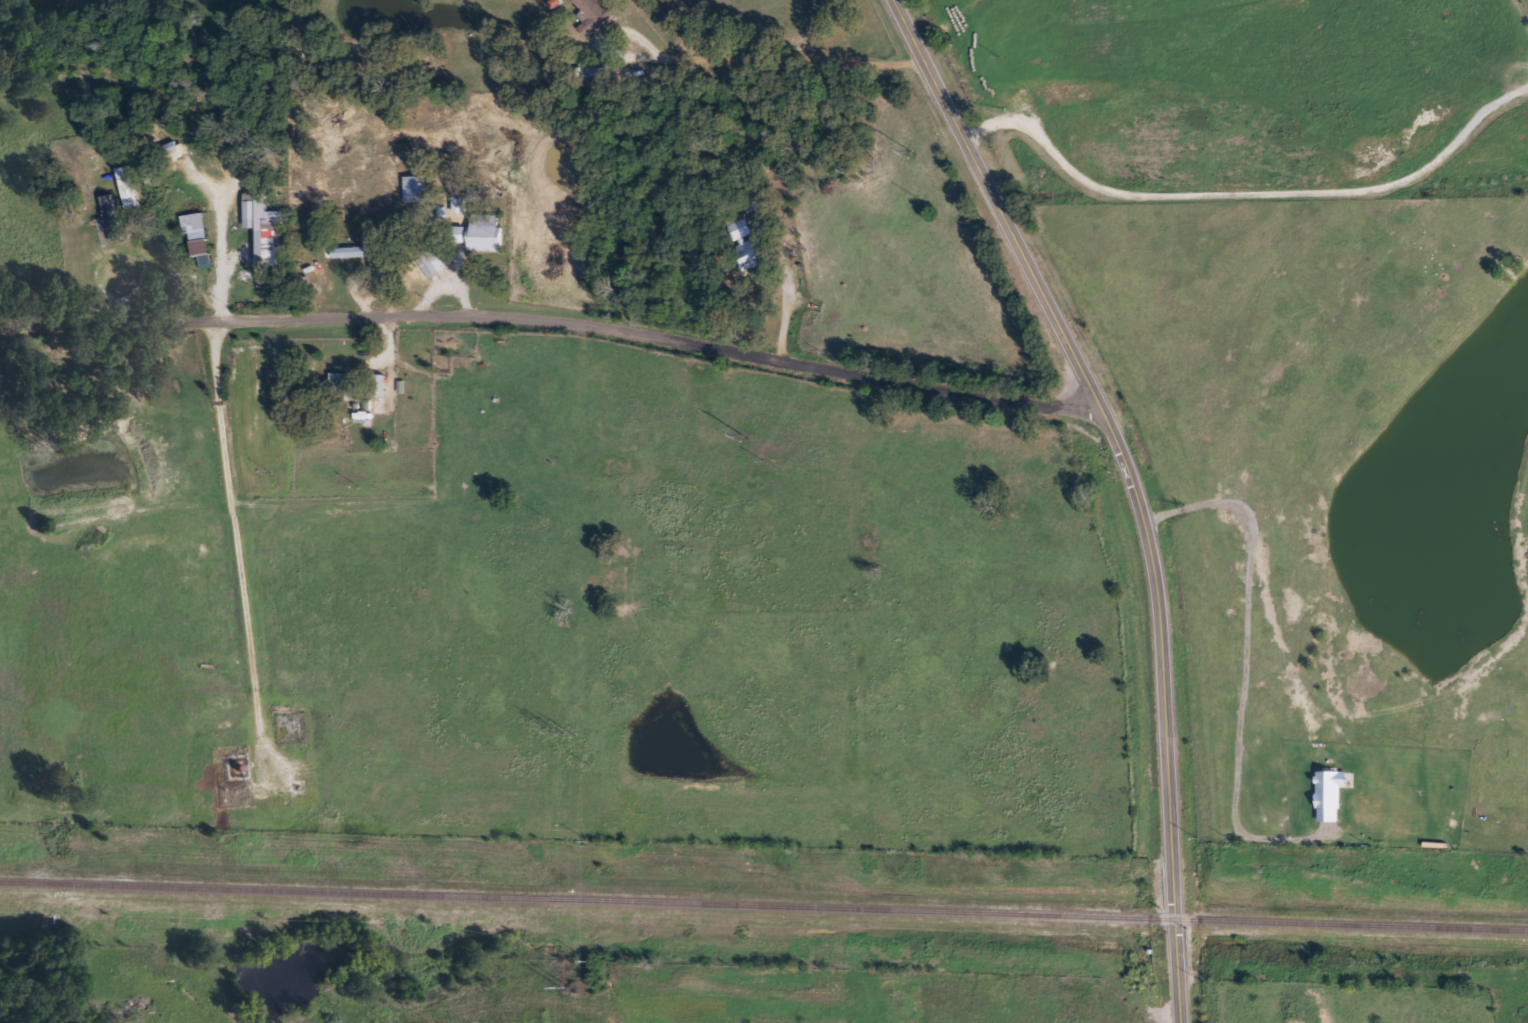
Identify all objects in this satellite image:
building: (595, 17)
road: (776, 57)
building: (130, 189)
building: (418, 191)
building: (462, 204)
building: (114, 219)
building: (271, 231)
building: (200, 235)
building: (483, 235)
building: (749, 241)
building: (357, 254)
building: (755, 263)
building: (437, 265)
road: (554, 319)
building: (383, 387)
road: (1131, 485)
road: (247, 582)
building: (1333, 795)
railway: (764, 905)

